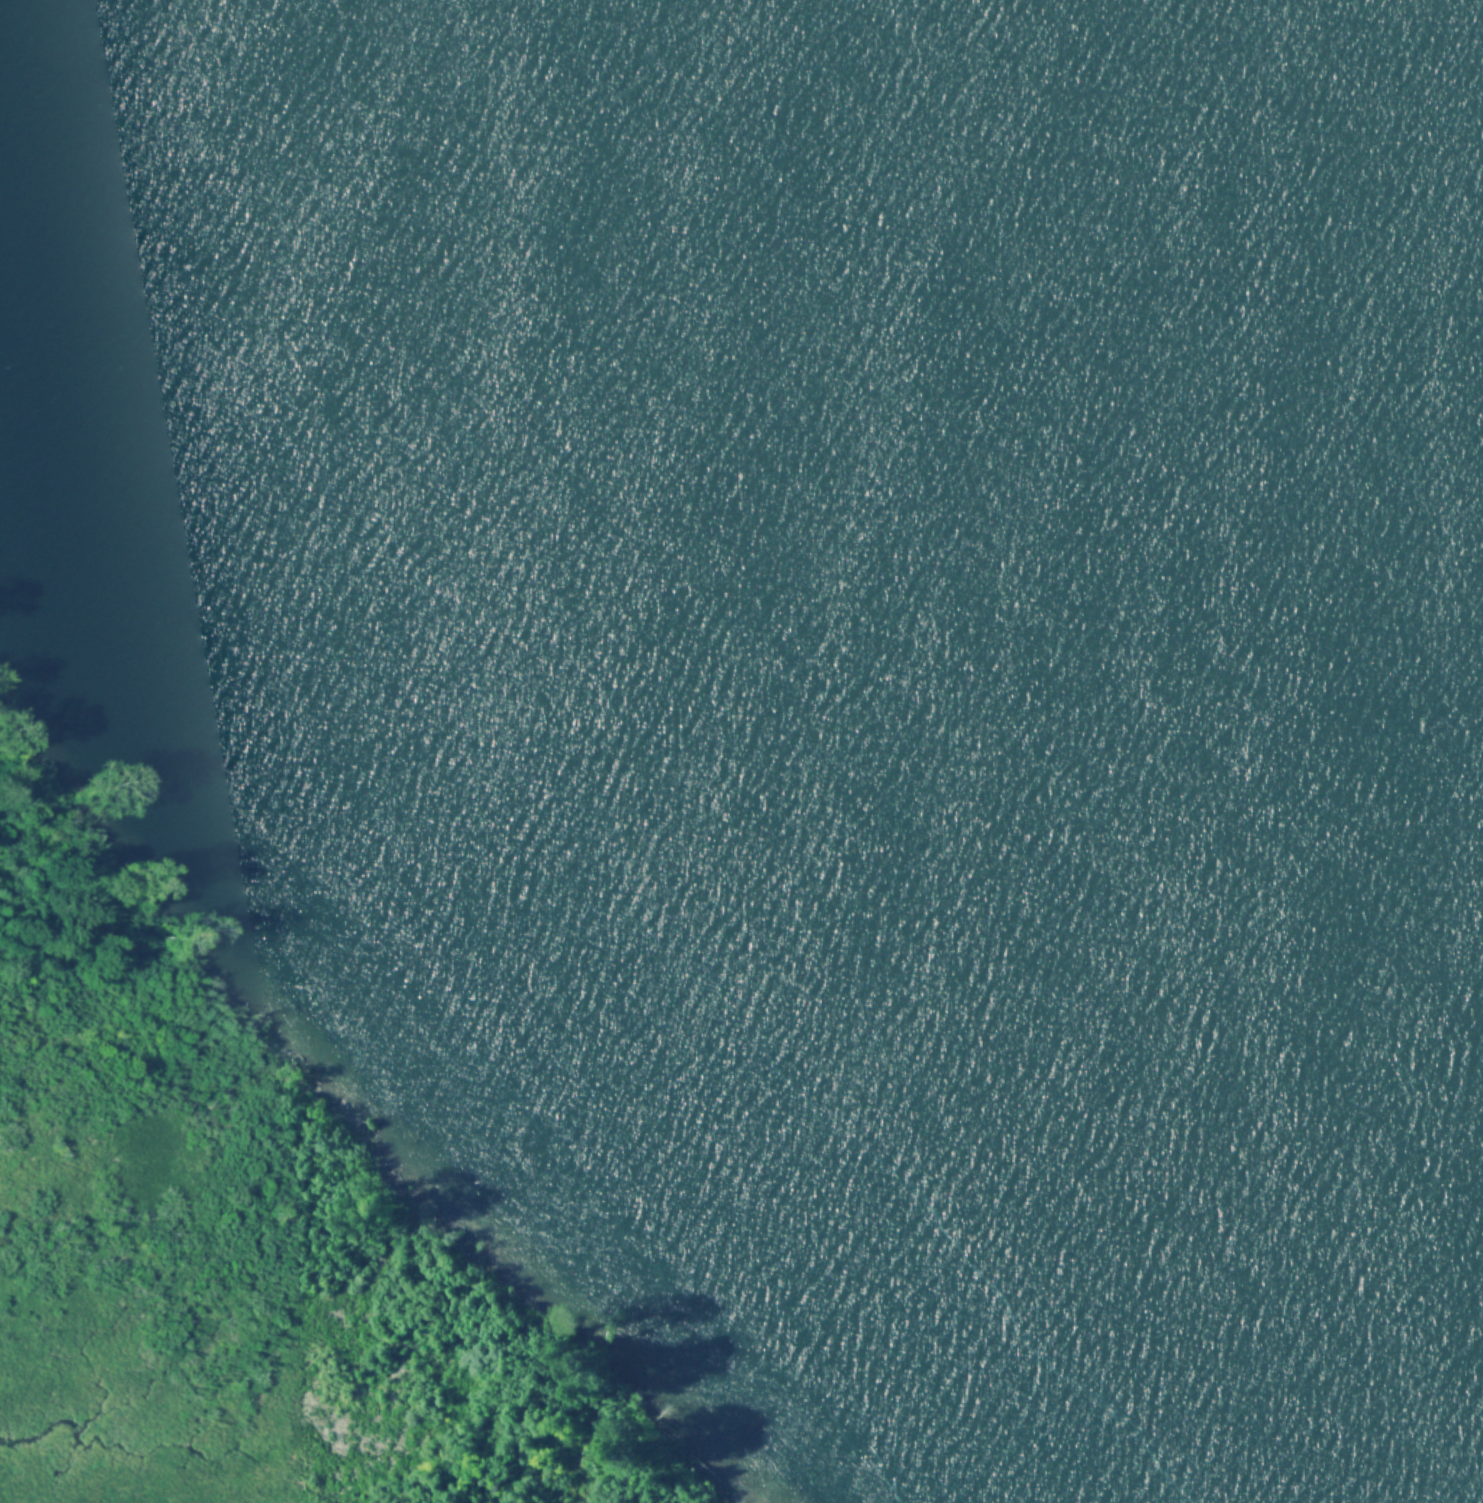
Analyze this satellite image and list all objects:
river: (1035, 502)

